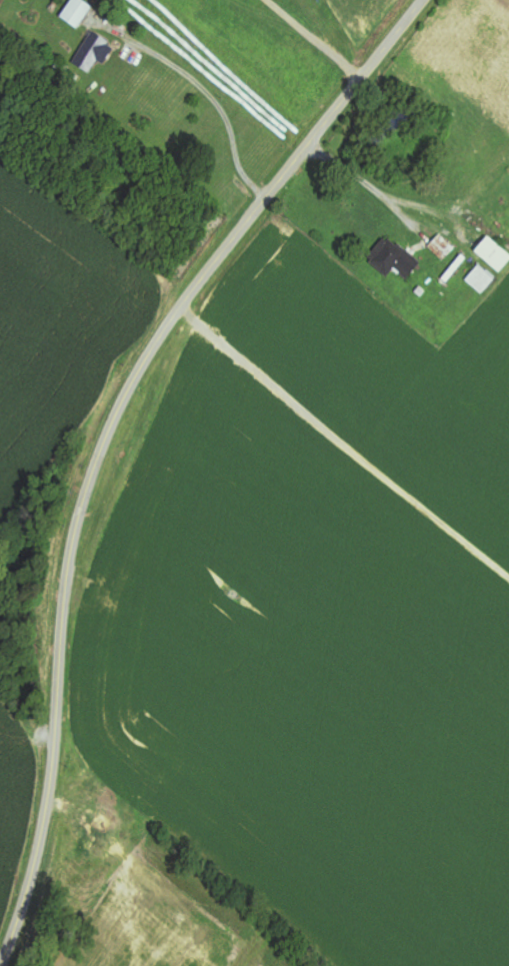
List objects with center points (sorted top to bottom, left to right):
building: (78, 12)
road: (314, 39)
building: (95, 52)
road: (218, 107)
building: (443, 246)
building: (495, 254)
building: (395, 260)
building: (483, 280)
road: (107, 437)
park: (19, 601)

